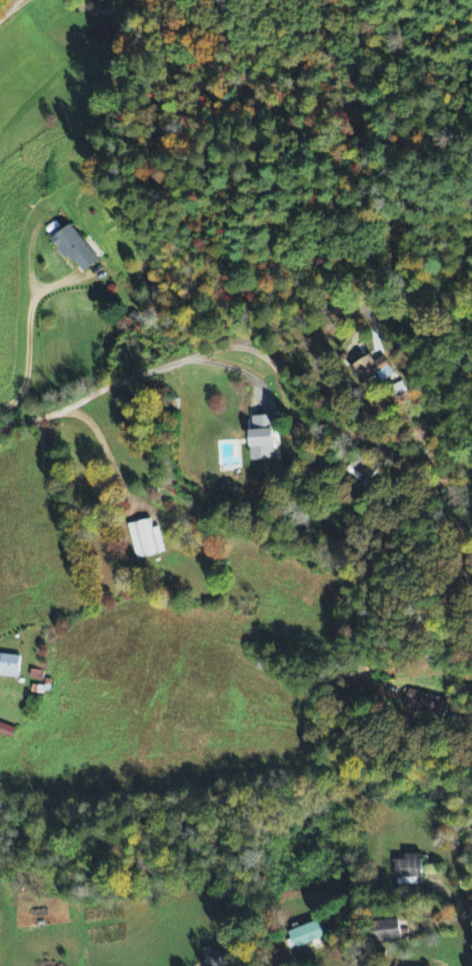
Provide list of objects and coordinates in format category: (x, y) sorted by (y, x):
building: (102, 1)
road: (7, 9)
building: (75, 250)
road: (268, 360)
building: (372, 371)
building: (262, 439)
building: (363, 469)
building: (146, 540)
building: (9, 667)
building: (428, 705)
building: (6, 732)
building: (409, 868)
building: (407, 882)
road: (455, 896)
road: (470, 901)
building: (386, 932)
building: (307, 935)
building: (218, 959)

